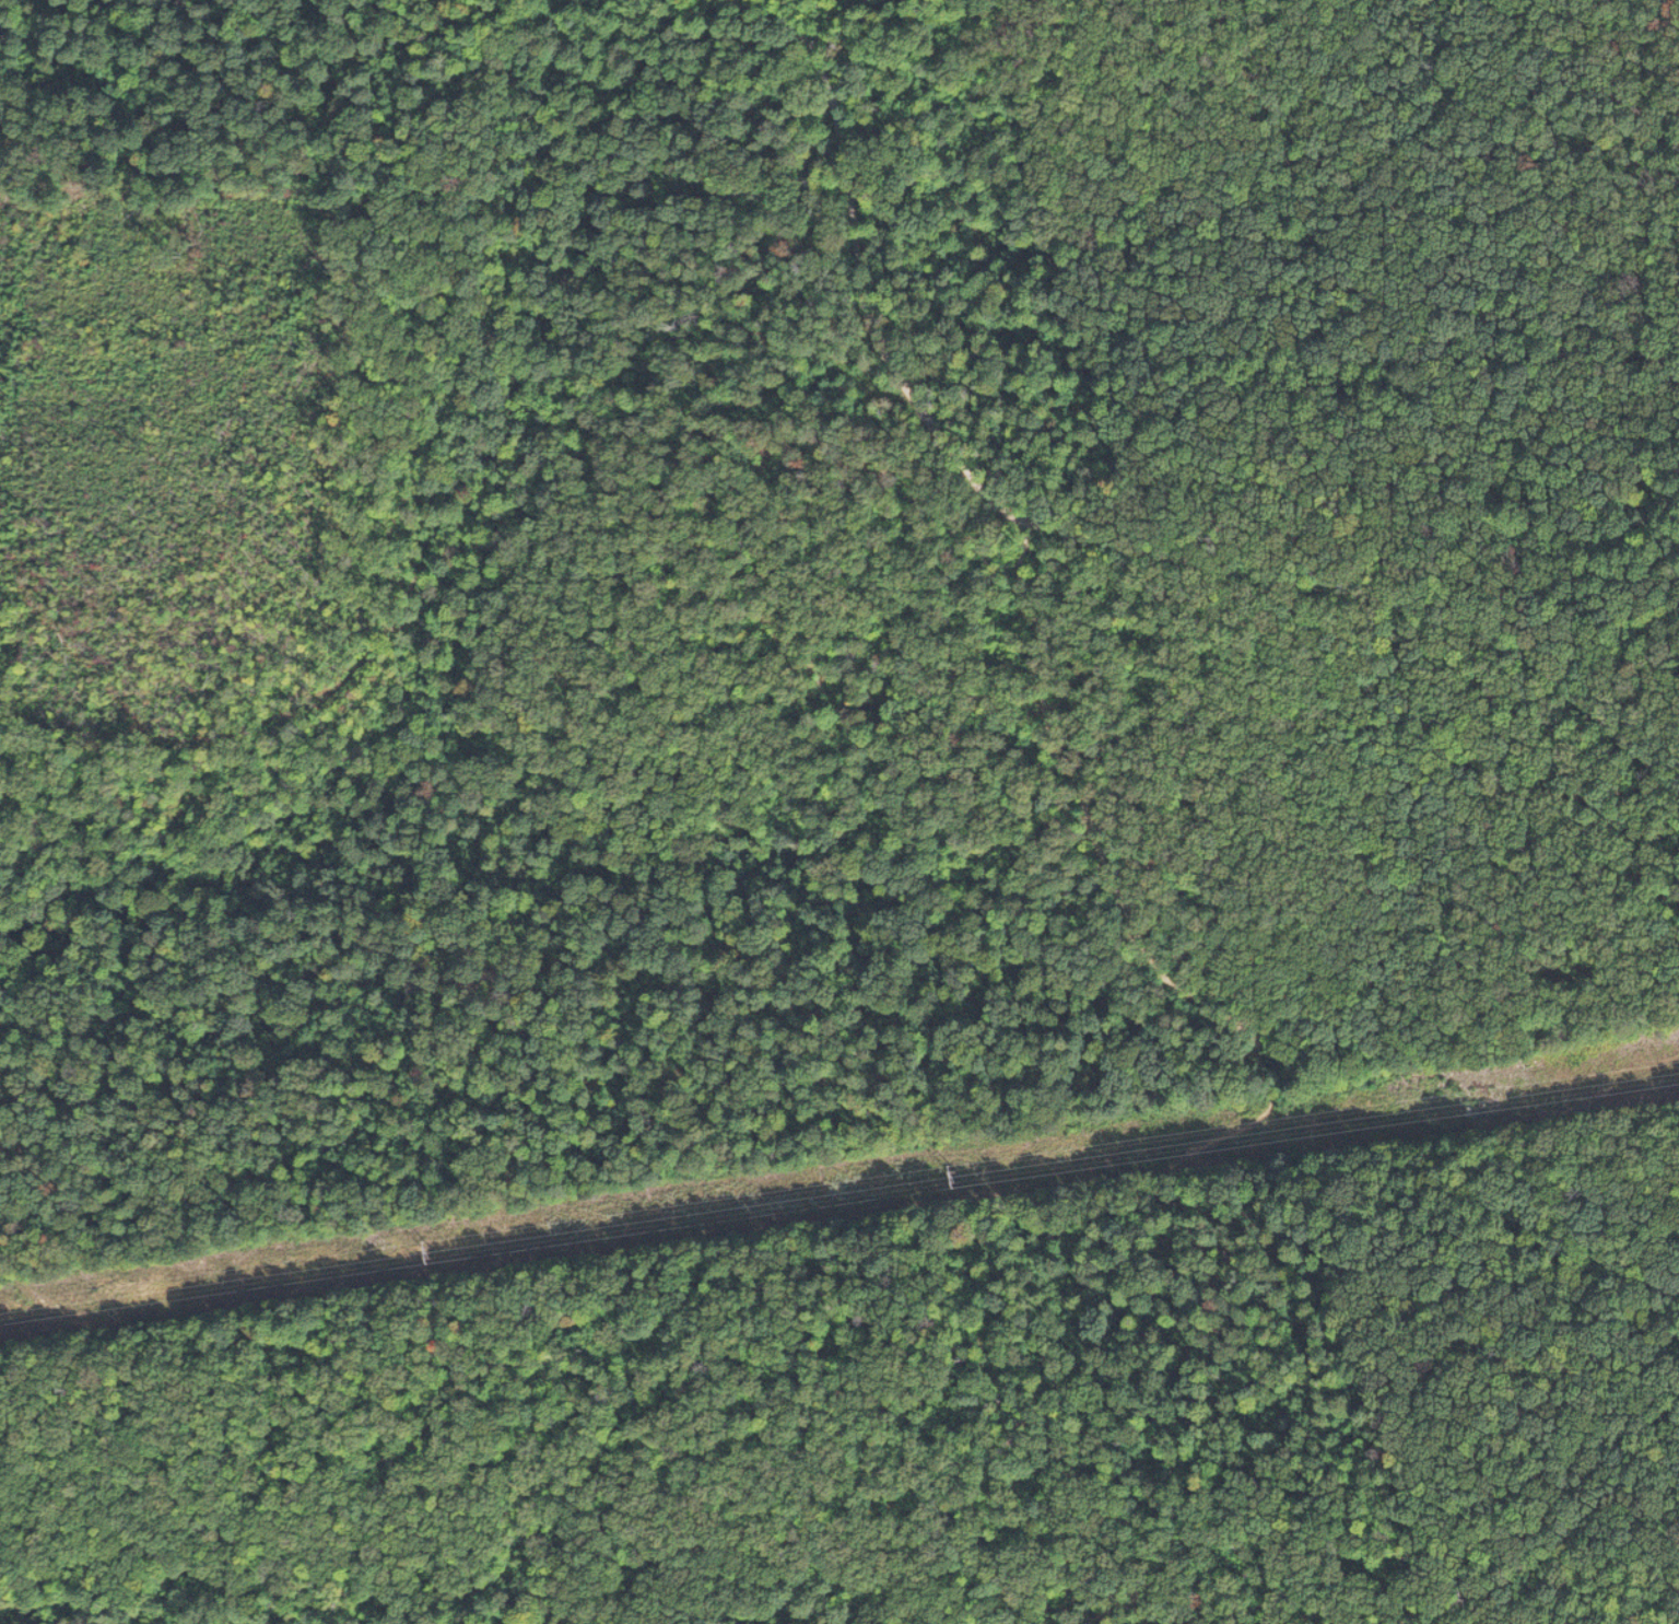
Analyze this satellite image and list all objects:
road: (1049, 518)

